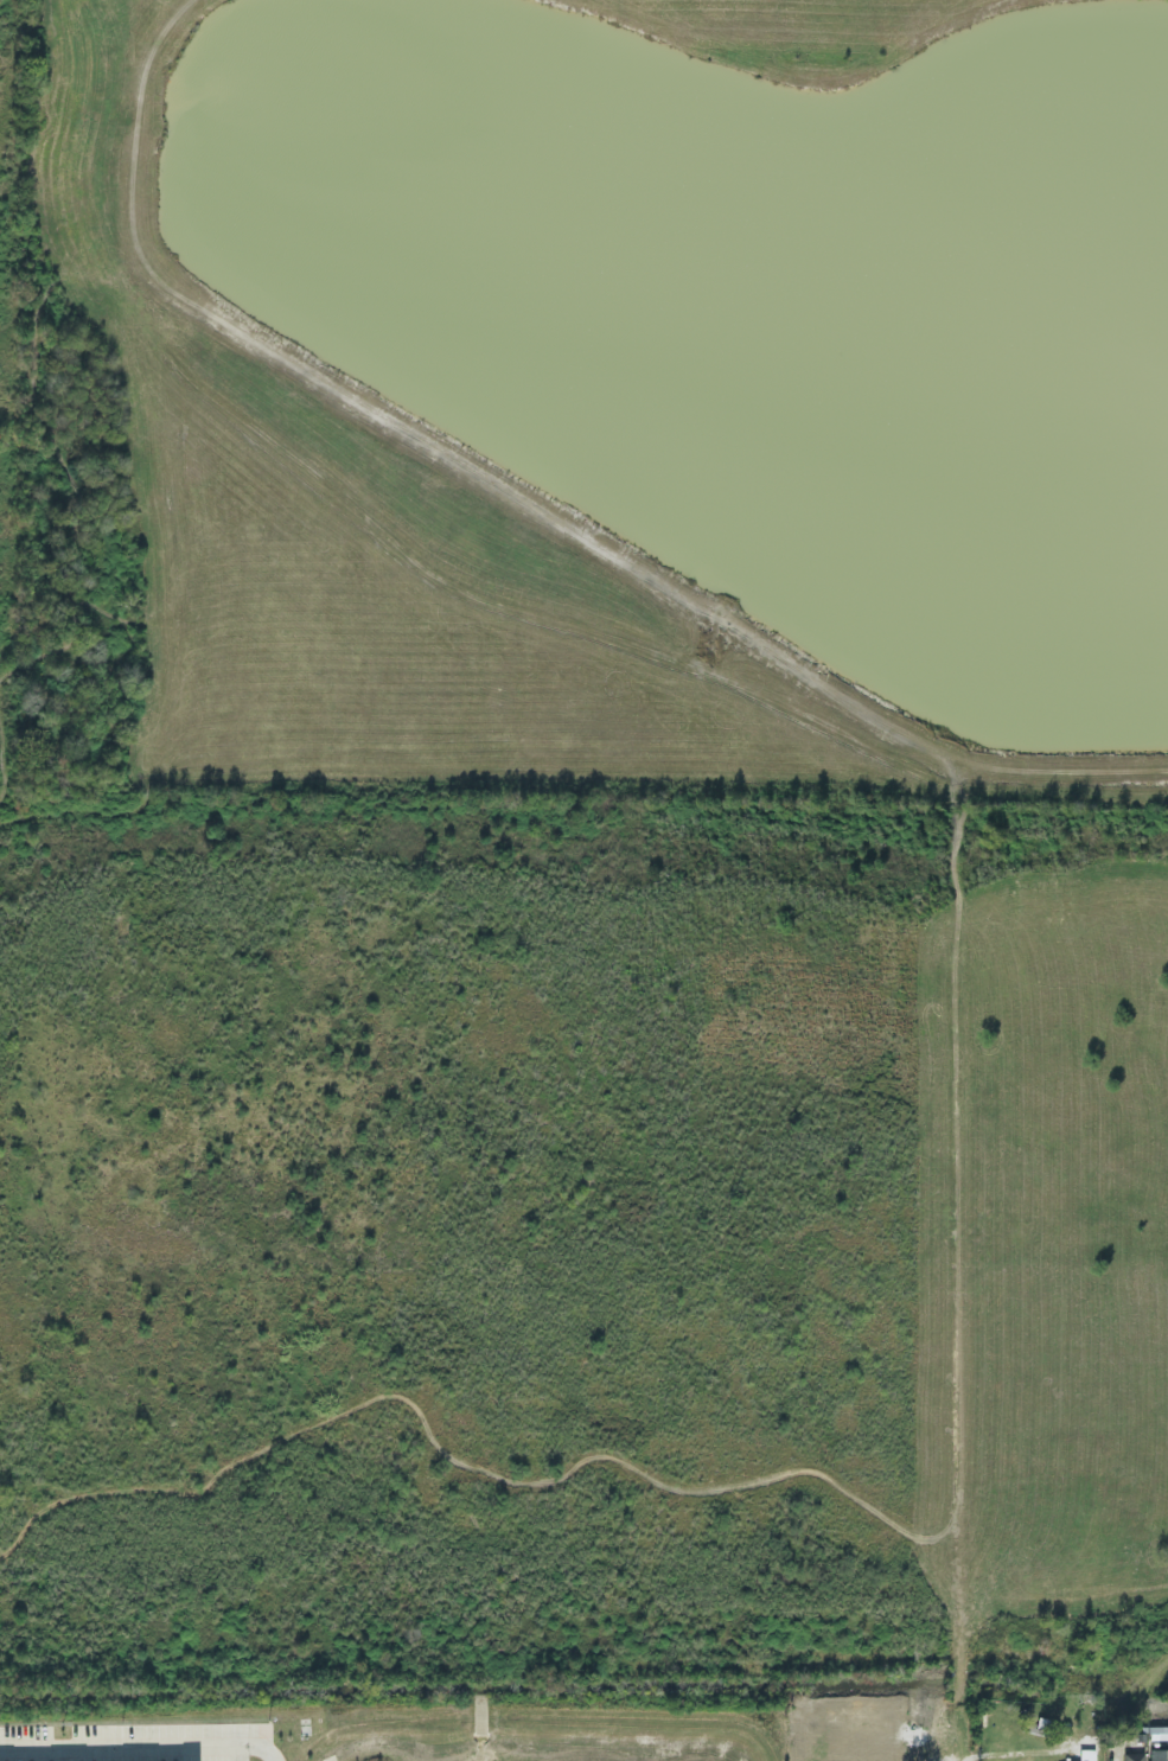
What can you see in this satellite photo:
park: (583, 851)
road: (504, 1711)
road: (459, 1715)
road: (669, 1718)
road: (359, 1721)
road: (781, 1727)
building: (1159, 1730)
road: (133, 1743)
road: (292, 1743)
road: (275, 1749)
road: (1019, 1749)
building: (1159, 1754)
building: (1132, 1755)
building: (1078, 1760)

